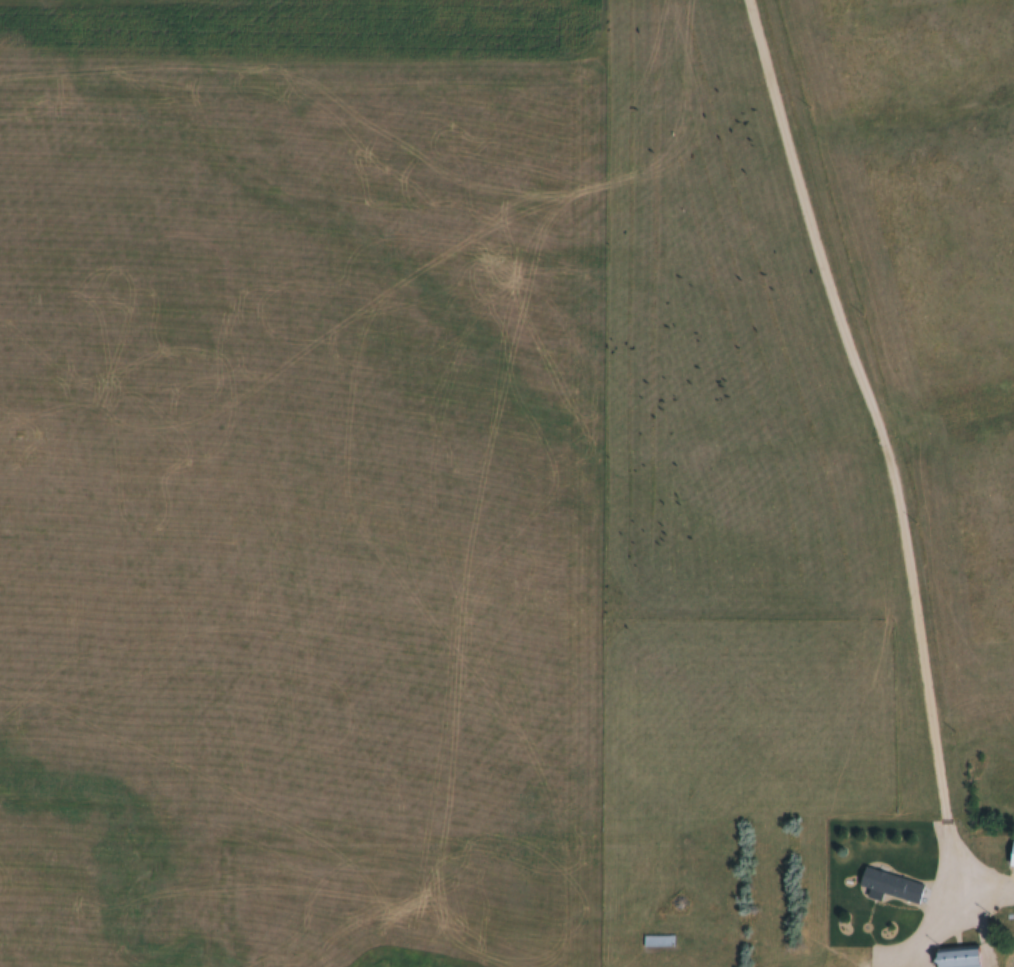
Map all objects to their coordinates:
road: (885, 426)
building: (888, 887)
building: (657, 942)
building: (955, 958)

